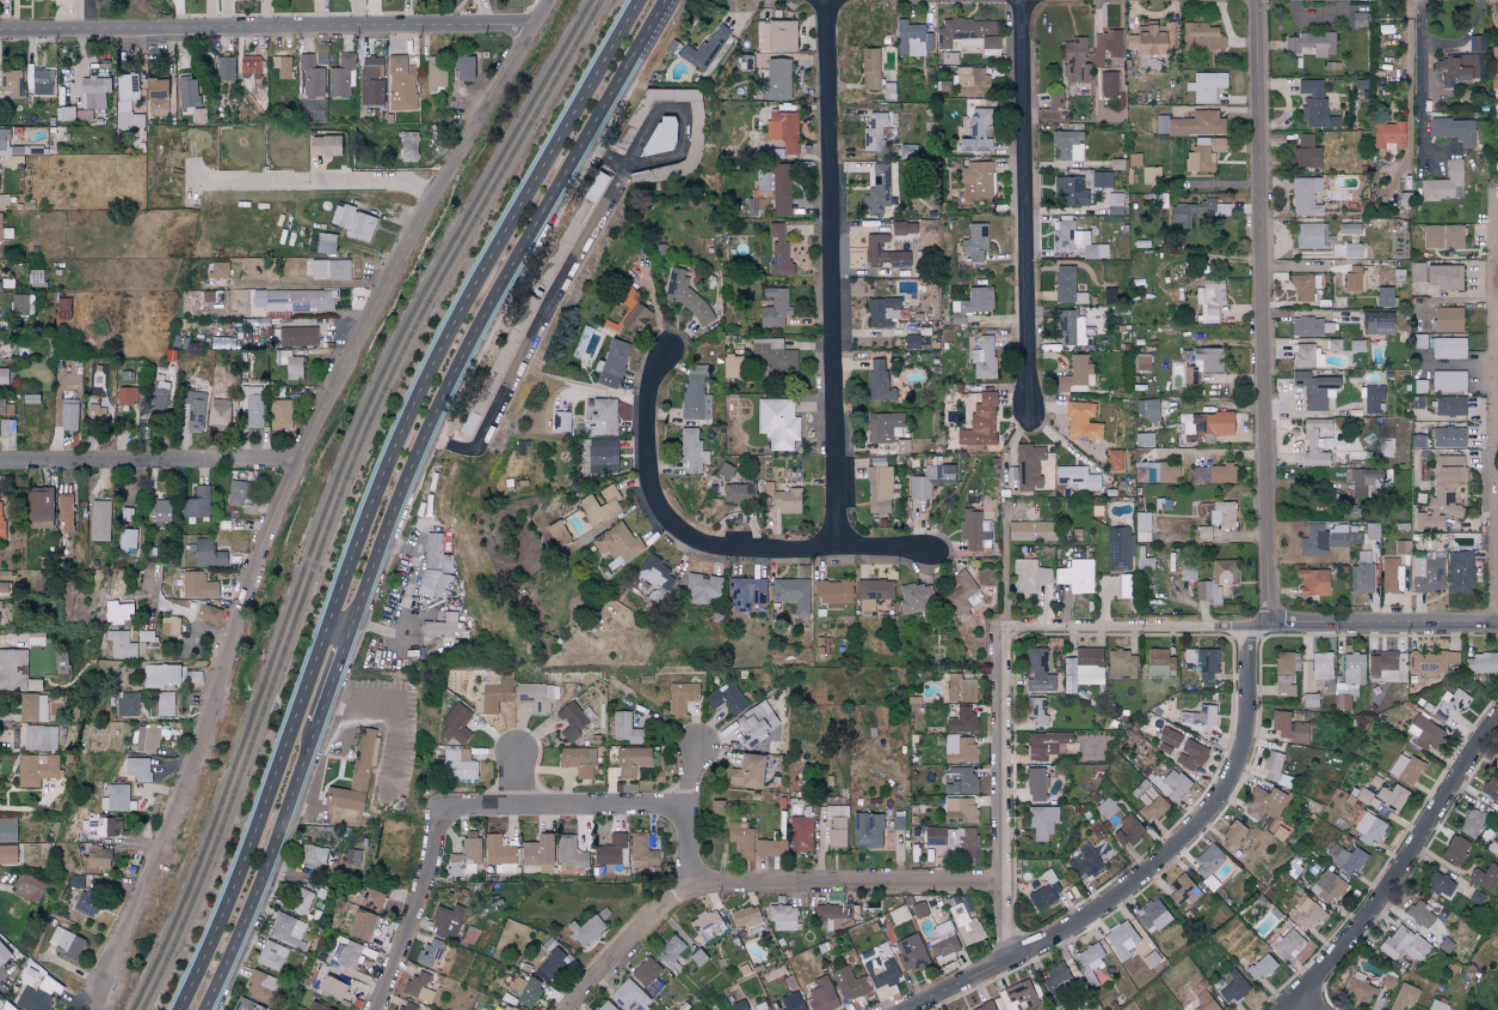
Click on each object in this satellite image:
building: (0, 0)
building: (20, 0)
building: (62, 0)
road: (536, 12)
building: (1358, 19)
road: (268, 26)
building: (967, 34)
building: (776, 36)
building: (1201, 36)
building: (912, 38)
building: (1149, 39)
building: (1311, 44)
building: (1476, 44)
building: (1106, 47)
building: (704, 49)
building: (1075, 61)
building: (744, 62)
building: (1494, 63)
building: (250, 66)
building: (281, 67)
building: (463, 68)
building: (224, 69)
building: (870, 69)
building: (1457, 69)
building: (435, 74)
building: (340, 75)
road: (1420, 75)
building: (310, 76)
building: (972, 78)
building: (777, 79)
building: (371, 81)
building: (42, 82)
building: (12, 83)
building: (400, 84)
building: (1108, 85)
building: (1206, 86)
building: (127, 87)
building: (94, 92)
building: (188, 92)
building: (156, 97)
building: (1055, 100)
building: (1314, 105)
building: (1495, 112)
building: (65, 114)
building: (84, 115)
building: (199, 115)
building: (127, 117)
building: (695, 123)
building: (1161, 124)
building: (1197, 124)
building: (783, 130)
building: (1454, 130)
building: (977, 132)
building: (874, 133)
building: (662, 134)
building: (1388, 135)
building: (4, 142)
building: (323, 146)
building: (1067, 146)
building: (407, 147)
building: (1305, 152)
building: (1204, 155)
building: (1134, 160)
building: (1150, 175)
road: (375, 180)
building: (1101, 180)
road: (255, 181)
building: (977, 181)
building: (1445, 184)
building: (781, 189)
building: (878, 190)
building: (762, 191)
building: (1070, 192)
building: (1305, 196)
road: (1028, 204)
building: (1114, 204)
building: (751, 207)
building: (1195, 213)
building: (353, 222)
building: (904, 228)
building: (1349, 228)
building: (570, 229)
building: (1314, 236)
building: (1432, 236)
building: (1452, 237)
building: (1075, 241)
building: (975, 242)
building: (326, 243)
building: (779, 251)
building: (1352, 251)
building: (883, 254)
building: (326, 269)
building: (218, 270)
building: (1417, 272)
road: (835, 275)
building: (1356, 277)
building: (1444, 277)
road: (310, 283)
building: (0, 286)
building: (1304, 286)
building: (1067, 287)
building: (686, 295)
building: (211, 296)
building: (1109, 296)
building: (1384, 297)
building: (292, 300)
building: (1210, 300)
building: (19, 304)
building: (972, 304)
road: (489, 305)
building: (774, 308)
building: (63, 309)
building: (882, 312)
road: (1267, 312)
building: (635, 319)
building: (1448, 319)
railway: (406, 323)
building: (1378, 323)
railway: (415, 325)
building: (1309, 327)
building: (1070, 329)
building: (298, 336)
building: (911, 342)
building: (1334, 345)
building: (1357, 346)
building: (1448, 348)
building: (774, 355)
building: (1306, 356)
building: (984, 359)
building: (1141, 363)
building: (290, 364)
building: (611, 364)
building: (1202, 364)
building: (497, 366)
building: (731, 366)
building: (1075, 374)
building: (3, 377)
building: (879, 381)
building: (1448, 381)
building: (1313, 389)
building: (696, 394)
building: (160, 395)
building: (127, 396)
building: (30, 398)
building: (1372, 399)
road: (1496, 403)
building: (252, 405)
building: (1450, 406)
building: (5, 408)
building: (1149, 410)
building: (194, 411)
building: (219, 412)
building: (68, 414)
building: (280, 414)
building: (96, 415)
building: (603, 417)
building: (1082, 421)
building: (561, 422)
building: (778, 423)
building: (980, 423)
building: (1209, 424)
building: (7, 427)
building: (884, 427)
building: (1448, 437)
building: (1143, 440)
building: (1317, 443)
building: (691, 450)
building: (602, 455)
building: (1114, 460)
road: (152, 463)
building: (1028, 466)
building: (725, 471)
building: (1157, 473)
building: (1213, 474)
building: (1076, 478)
building: (930, 480)
building: (1359, 483)
road: (377, 490)
building: (879, 490)
road: (293, 491)
building: (235, 492)
building: (739, 493)
building: (1443, 493)
building: (787, 501)
building: (201, 502)
building: (600, 506)
building: (40, 507)
building: (66, 510)
building: (160, 510)
building: (0, 515)
building: (1222, 515)
building: (99, 520)
building: (1142, 526)
building: (973, 529)
building: (1031, 531)
building: (557, 532)
building: (1203, 532)
building: (1344, 536)
building: (1313, 541)
building: (128, 542)
building: (617, 543)
road: (714, 547)
building: (1402, 547)
building: (1119, 548)
building: (207, 553)
road: (1004, 560)
building: (436, 568)
building: (1187, 571)
building: (1459, 572)
building: (1427, 573)
building: (1361, 574)
building: (655, 576)
building: (1029, 576)
building: (1076, 576)
building: (1391, 576)
building: (1216, 581)
building: (1313, 582)
building: (197, 585)
building: (3, 586)
building: (1125, 586)
building: (702, 587)
building: (873, 592)
building: (746, 593)
building: (792, 593)
building: (833, 593)
building: (960, 593)
building: (915, 596)
building: (117, 610)
building: (207, 613)
road: (186, 616)
road: (1374, 624)
building: (170, 625)
building: (443, 626)
road: (1129, 626)
road: (339, 627)
building: (36, 638)
building: (0, 641)
building: (121, 644)
building: (1203, 661)
building: (1158, 662)
building: (1431, 662)
building: (1120, 663)
building: (1480, 663)
building: (1085, 665)
building: (1321, 665)
building: (1382, 665)
building: (1354, 668)
building: (15, 671)
building: (1038, 671)
road: (334, 672)
building: (1284, 674)
building: (161, 675)
building: (193, 676)
building: (960, 688)
building: (495, 691)
building: (536, 695)
building: (681, 696)
building: (726, 698)
building: (1310, 700)
building: (1342, 702)
building: (165, 703)
building: (128, 704)
building: (1449, 705)
building: (33, 707)
building: (1037, 709)
building: (1199, 717)
building: (573, 719)
building: (961, 720)
road: (398, 721)
building: (756, 722)
building: (457, 723)
building: (625, 727)
building: (1289, 727)
road: (352, 732)
building: (1425, 733)
building: (38, 737)
building: (1170, 737)
building: (146, 740)
building: (1045, 744)
building: (959, 748)
building: (1190, 755)
building: (362, 759)
building: (632, 760)
building: (578, 761)
building: (456, 766)
building: (1496, 767)
building: (37, 768)
building: (138, 768)
building: (1275, 769)
building: (1406, 769)
building: (747, 771)
road: (519, 772)
building: (959, 779)
building: (1035, 784)
building: (1171, 784)
building: (1490, 789)
building: (1374, 791)
road: (1007, 795)
building: (1363, 796)
building: (116, 798)
building: (342, 798)
road: (566, 800)
building: (1390, 800)
building: (1148, 801)
building: (1263, 802)
building: (1106, 807)
road: (691, 809)
road: (33, 810)
road: (310, 810)
building: (959, 810)
building: (898, 820)
building: (1041, 821)
building: (1471, 822)
building: (100, 826)
building: (837, 827)
building: (1367, 828)
building: (8, 829)
building: (867, 829)
building: (1127, 830)
building: (1279, 833)
building: (801, 834)
building: (1232, 835)
building: (741, 838)
building: (953, 840)
railway: (206, 842)
railway: (214, 843)
building: (770, 847)
road: (819, 847)
building: (1455, 849)
building: (612, 850)
building: (642, 851)
building: (539, 852)
building: (570, 852)
building: (8, 854)
building: (500, 854)
building: (315, 855)
building: (466, 855)
building: (352, 856)
building: (97, 857)
building: (1346, 859)
building: (1084, 862)
road: (266, 864)
building: (1208, 864)
building: (0, 867)
building: (530, 868)
road: (1150, 870)
road: (1402, 872)
building: (1483, 876)
road: (759, 880)
building: (76, 882)
building: (1440, 884)
building: (1327, 886)
building: (28, 888)
building: (1183, 889)
building: (1044, 893)
building: (371, 899)
building: (301, 901)
building: (85, 904)
road: (419, 907)
building: (919, 909)
building: (1419, 913)
building: (1306, 914)
building: (1154, 915)
building: (745, 916)
building: (782, 917)
building: (447, 920)
building: (361, 924)
building: (707, 925)
building: (966, 925)
building: (288, 930)
building: (585, 930)
building: (1121, 939)
building: (1283, 940)
building: (1395, 941)
building: (944, 942)
building: (66, 943)
building: (1416, 948)
building: (429, 952)
building: (670, 952)
building: (910, 952)
building: (3, 953)
building: (351, 954)
building: (272, 955)
building: (697, 957)
building: (1089, 961)
building: (551, 966)
building: (1260, 967)
building: (881, 971)
building: (648, 974)
building: (1055, 976)
building: (848, 983)
building: (261, 985)
building: (418, 986)
building: (332, 987)
building: (1233, 987)
building: (1359, 988)
building: (526, 990)
building: (822, 995)
building: (1017, 995)
building: (630, 996)
building: (1403, 996)
building: (33, 999)
road: (107, 1001)
building: (792, 1001)
building: (1205, 1001)
building: (246, 1005)
building: (1437, 1005)
building: (315, 1006)
building: (406, 1006)
building: (606, 1006)
building: (985, 1006)
road: (1300, 1006)
building: (7, 1007)
building: (502, 1007)
building: (765, 1009)

